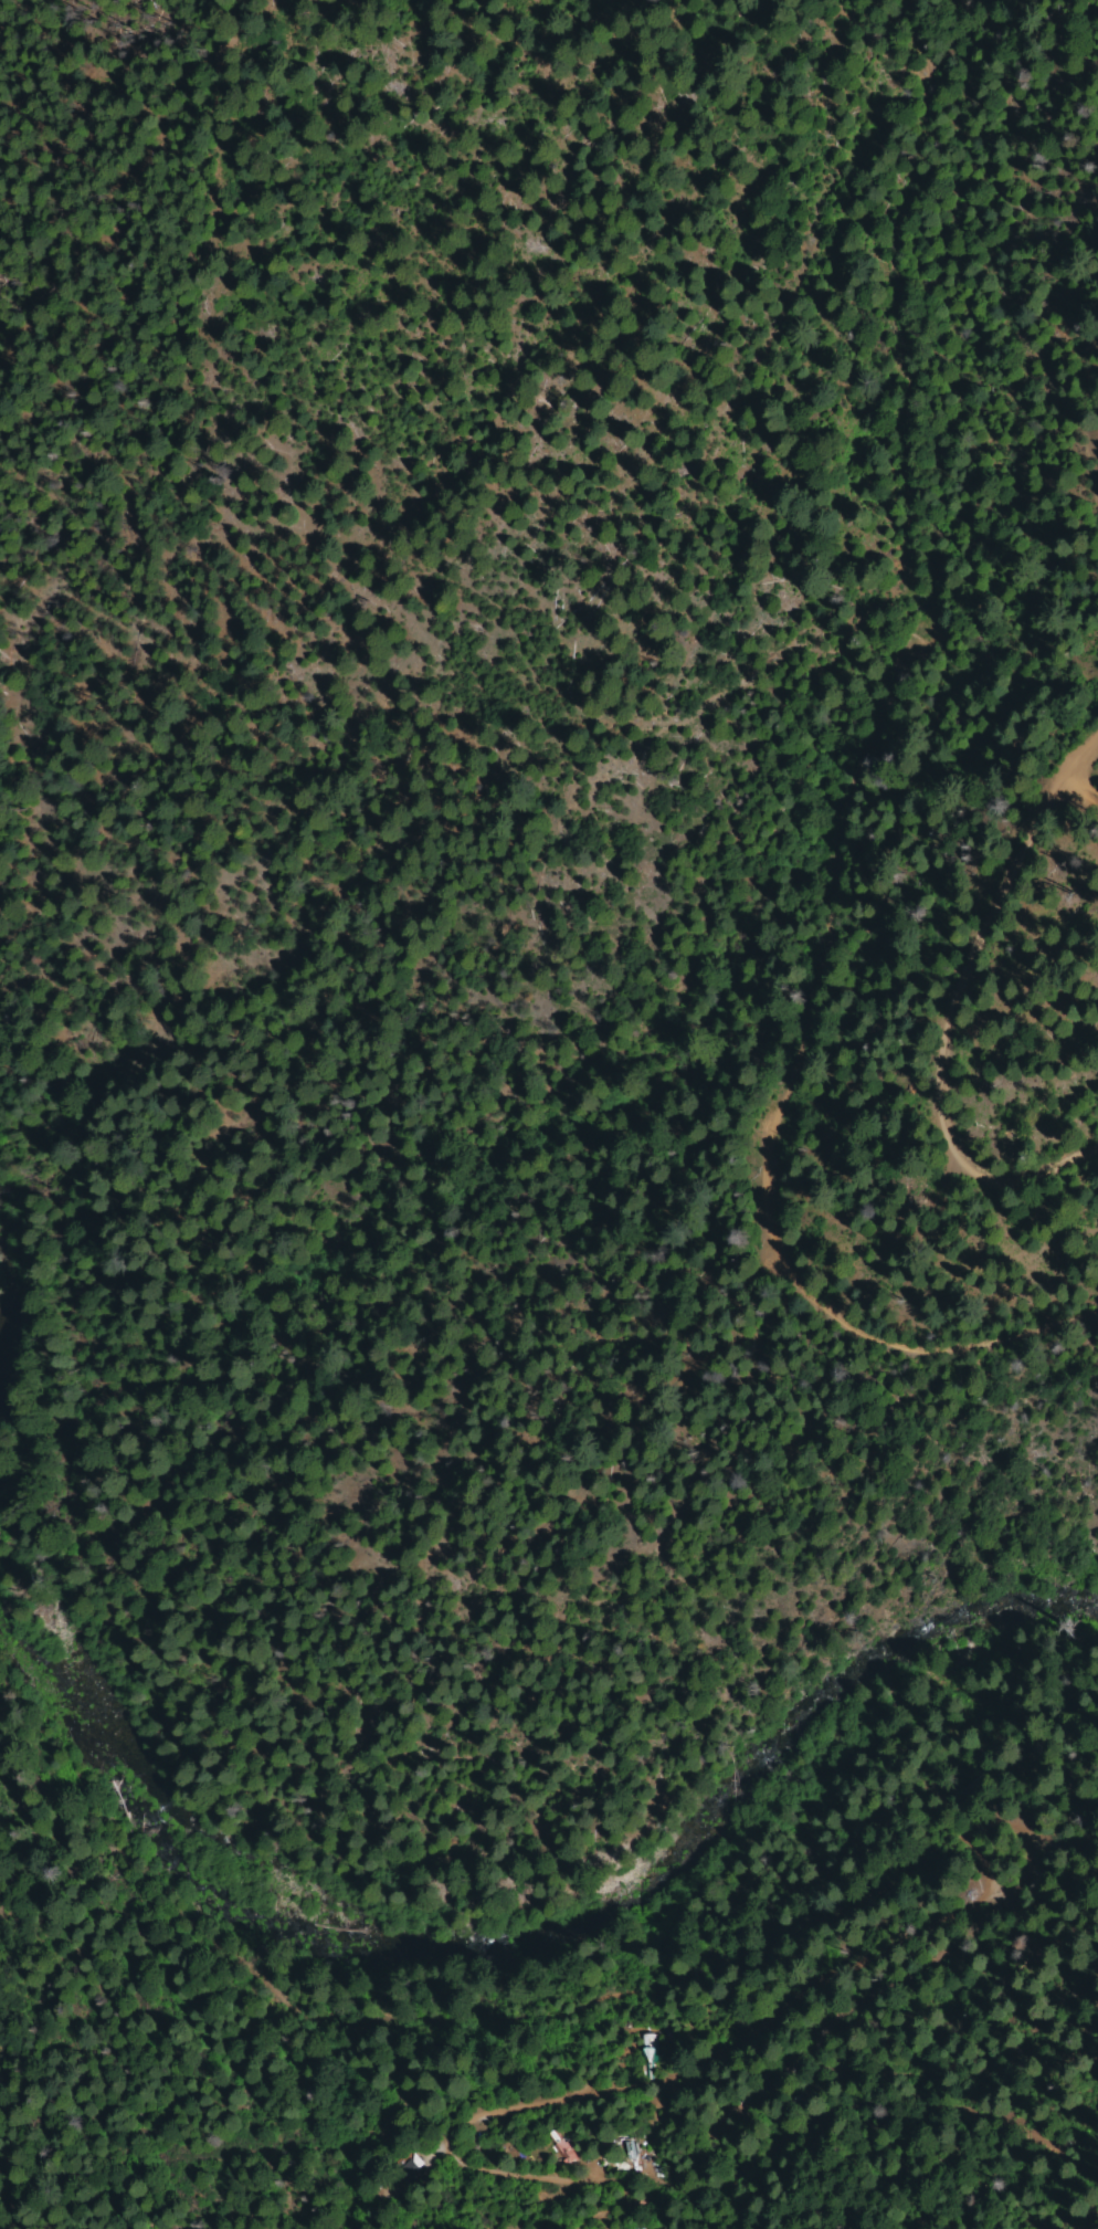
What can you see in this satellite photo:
road: (971, 965)
river: (529, 1928)

